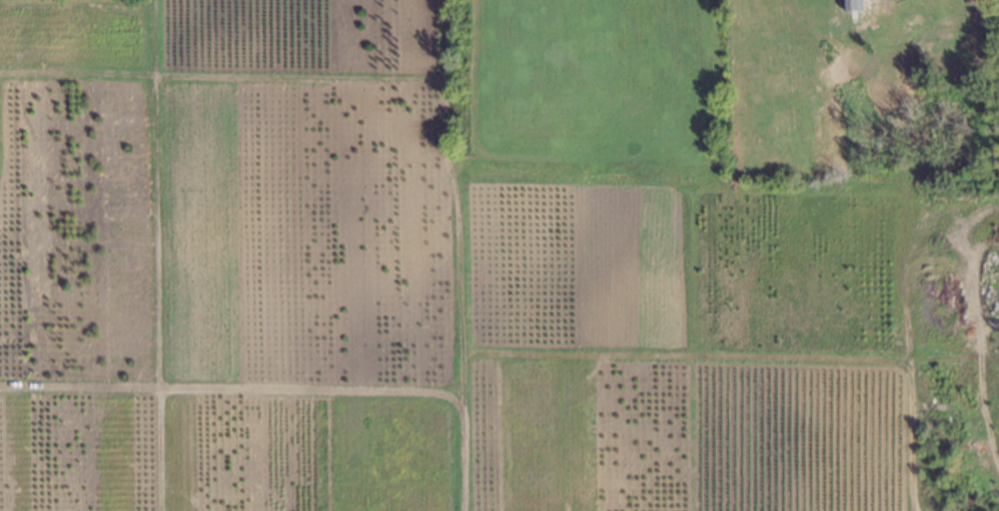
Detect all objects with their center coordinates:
building: (853, 3)

